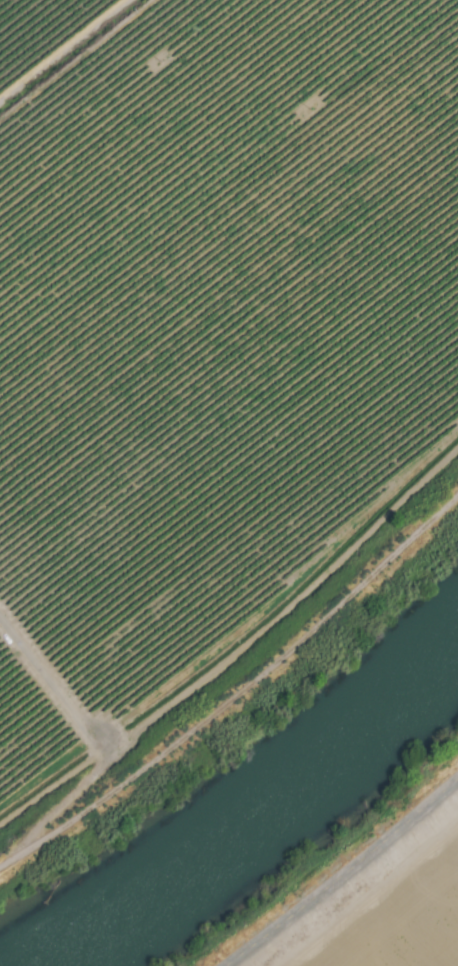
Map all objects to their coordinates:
crop: (209, 340)
road: (239, 693)
road: (100, 734)
road: (342, 873)
crop: (372, 896)

